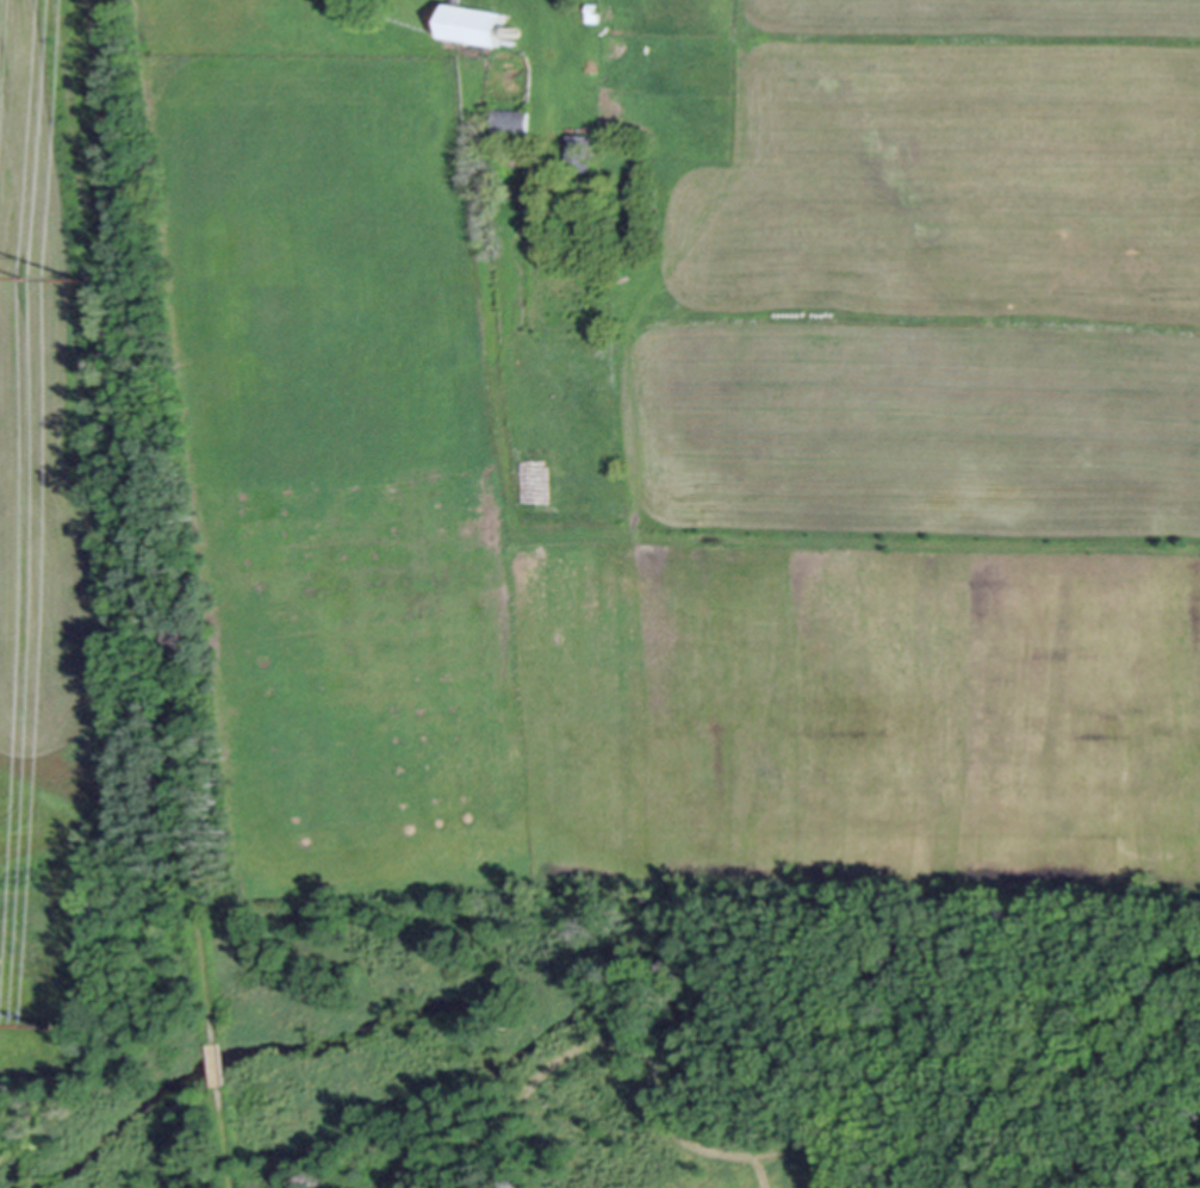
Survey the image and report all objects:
building: (468, 20)
building: (508, 118)
building: (577, 151)
river: (673, 1014)

